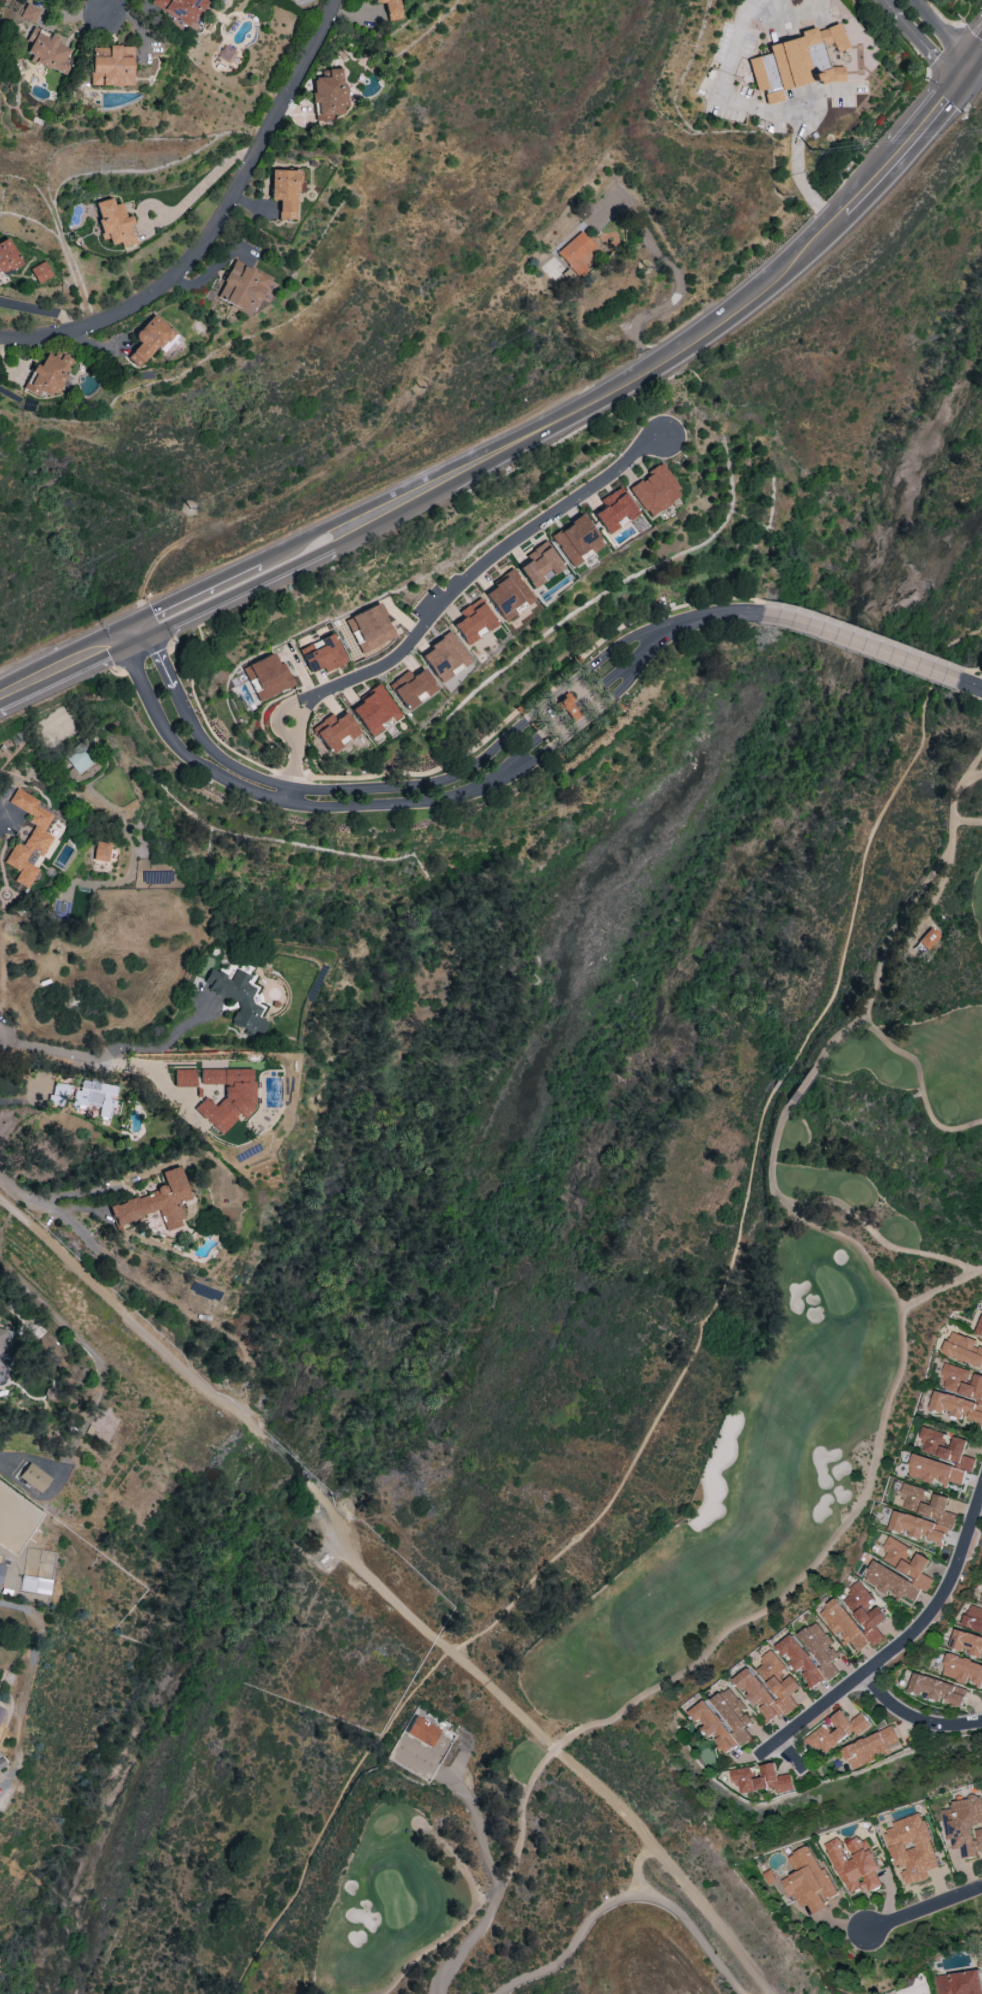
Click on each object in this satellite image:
road: (112, 3)
building: (180, 9)
building: (391, 9)
building: (28, 13)
road: (791, 19)
road: (942, 32)
road: (920, 41)
road: (981, 42)
building: (46, 50)
road: (975, 53)
building: (796, 62)
traffic signals: (970, 63)
building: (112, 65)
road: (718, 87)
road: (811, 89)
building: (329, 94)
road: (937, 107)
road: (799, 177)
road: (209, 178)
road: (873, 181)
building: (285, 190)
building: (114, 223)
road: (216, 227)
building: (575, 253)
building: (7, 255)
building: (40, 272)
road: (677, 279)
building: (245, 287)
road: (41, 309)
building: (150, 339)
building: (47, 375)
road: (569, 414)
building: (654, 490)
building: (615, 509)
building: (576, 540)
building: (540, 564)
road: (477, 565)
road: (196, 594)
building: (508, 594)
building: (473, 620)
road: (697, 620)
building: (370, 628)
road: (855, 646)
road: (613, 647)
building: (322, 654)
building: (444, 657)
road: (65, 658)
road: (627, 668)
building: (267, 676)
road: (967, 684)
building: (412, 687)
building: (569, 706)
building: (374, 710)
road: (578, 717)
road: (192, 727)
building: (335, 731)
road: (294, 743)
building: (79, 757)
road: (459, 771)
road: (292, 795)
road: (295, 804)
road: (3, 818)
road: (873, 832)
building: (28, 838)
building: (101, 851)
building: (928, 938)
building: (238, 998)
road: (2, 1036)
road: (114, 1048)
road: (146, 1068)
road: (784, 1074)
building: (184, 1077)
building: (58, 1093)
building: (227, 1096)
building: (95, 1097)
road: (15, 1099)
road: (21, 1195)
building: (156, 1202)
road: (5, 1203)
river: (438, 1249)
building: (979, 1330)
building: (963, 1349)
building: (960, 1393)
park: (751, 1415)
building: (948, 1455)
building: (34, 1477)
building: (922, 1514)
road: (336, 1522)
road: (546, 1565)
building: (910, 1567)
building: (1, 1571)
building: (35, 1585)
building: (981, 1599)
building: (866, 1611)
building: (844, 1624)
building: (970, 1633)
road: (904, 1640)
building: (792, 1650)
building: (962, 1669)
building: (769, 1686)
building: (938, 1688)
building: (0, 1711)
road: (914, 1718)
building: (724, 1719)
building: (422, 1730)
building: (836, 1730)
building: (869, 1747)
building: (761, 1778)
road: (477, 1819)
building: (964, 1825)
building: (911, 1847)
building: (855, 1864)
road: (507, 1875)
building: (769, 1876)
building: (808, 1880)
road: (924, 1905)
road: (712, 1918)
road: (587, 1922)
building: (961, 1982)

